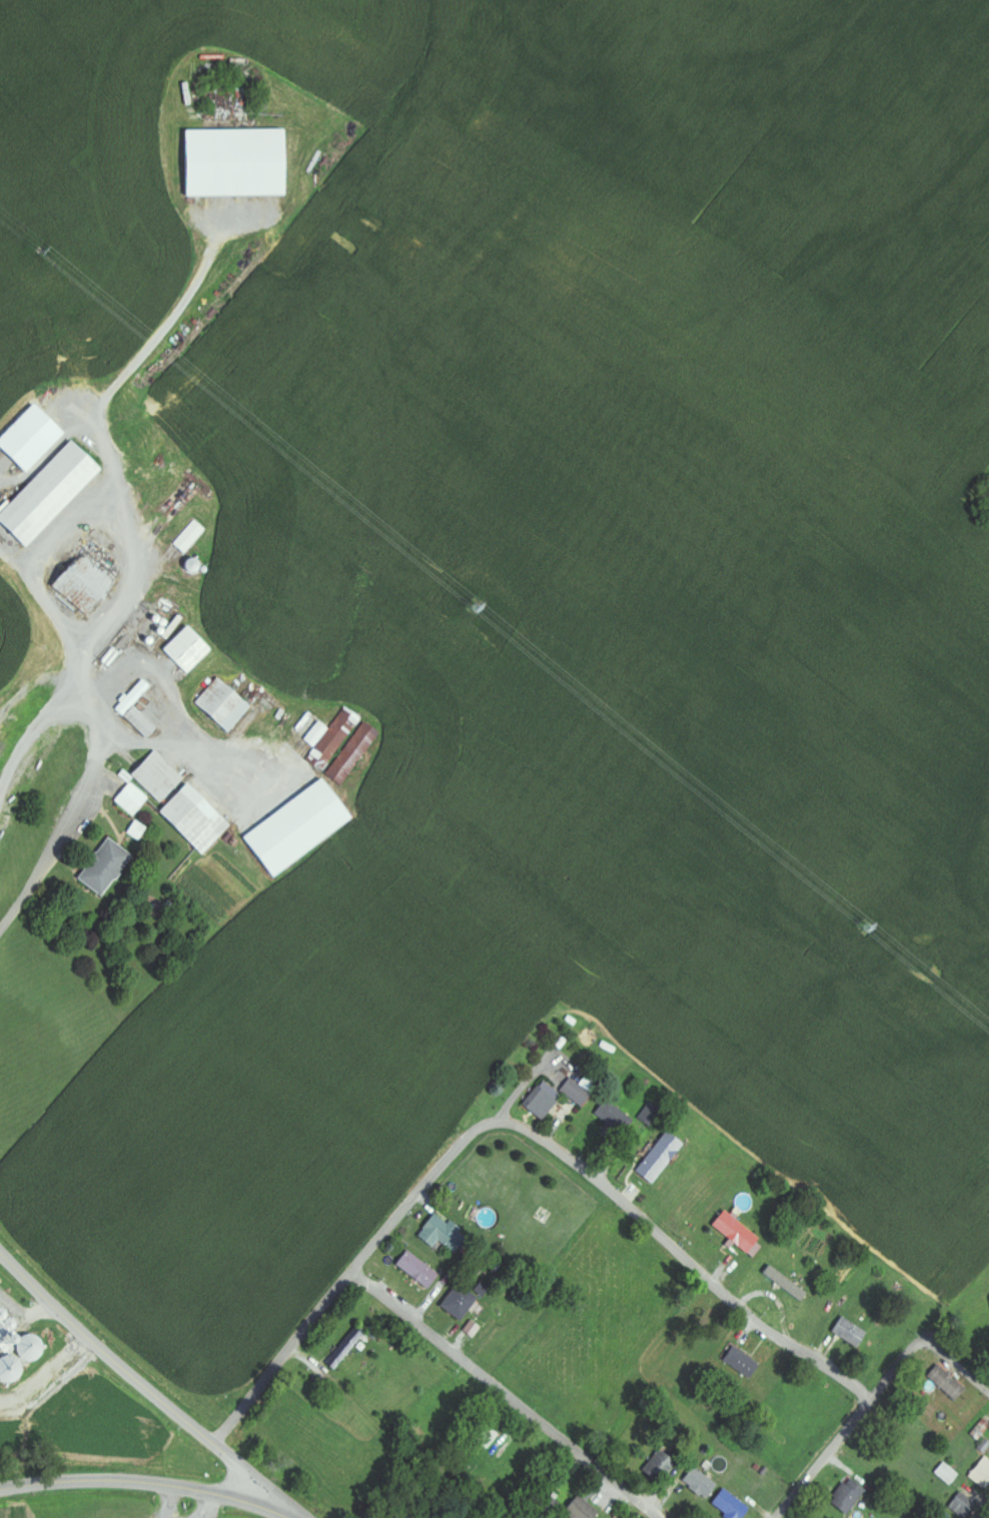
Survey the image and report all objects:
building: (240, 162)
building: (35, 439)
building: (54, 493)
building: (192, 537)
building: (88, 587)
building: (191, 649)
building: (227, 703)
building: (140, 710)
building: (329, 736)
building: (354, 752)
road: (100, 758)
building: (178, 802)
building: (302, 828)
building: (109, 867)
building: (578, 1092)
building: (544, 1099)
building: (652, 1114)
building: (613, 1115)
building: (663, 1157)
building: (739, 1231)
building: (445, 1234)
road: (682, 1257)
building: (421, 1269)
road: (348, 1277)
building: (788, 1282)
building: (462, 1302)
building: (475, 1329)
building: (853, 1332)
road: (926, 1344)
building: (348, 1348)
building: (19, 1350)
building: (744, 1362)
building: (949, 1383)
road: (147, 1387)
road: (505, 1394)
road: (822, 1459)
building: (663, 1465)
building: (949, 1474)
building: (982, 1474)
road: (149, 1482)
building: (703, 1483)
building: (851, 1495)
building: (733, 1505)
building: (965, 1506)
building: (583, 1510)

